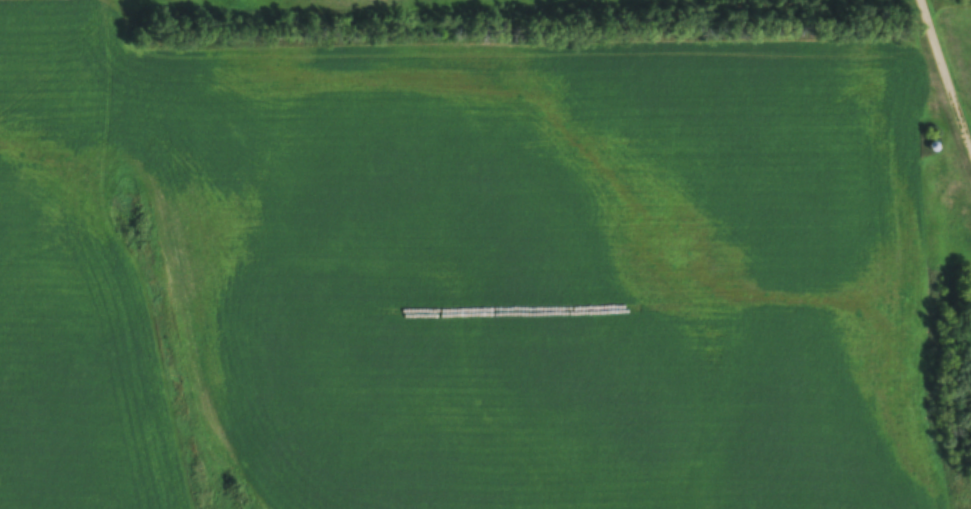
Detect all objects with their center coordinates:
road: (946, 72)

